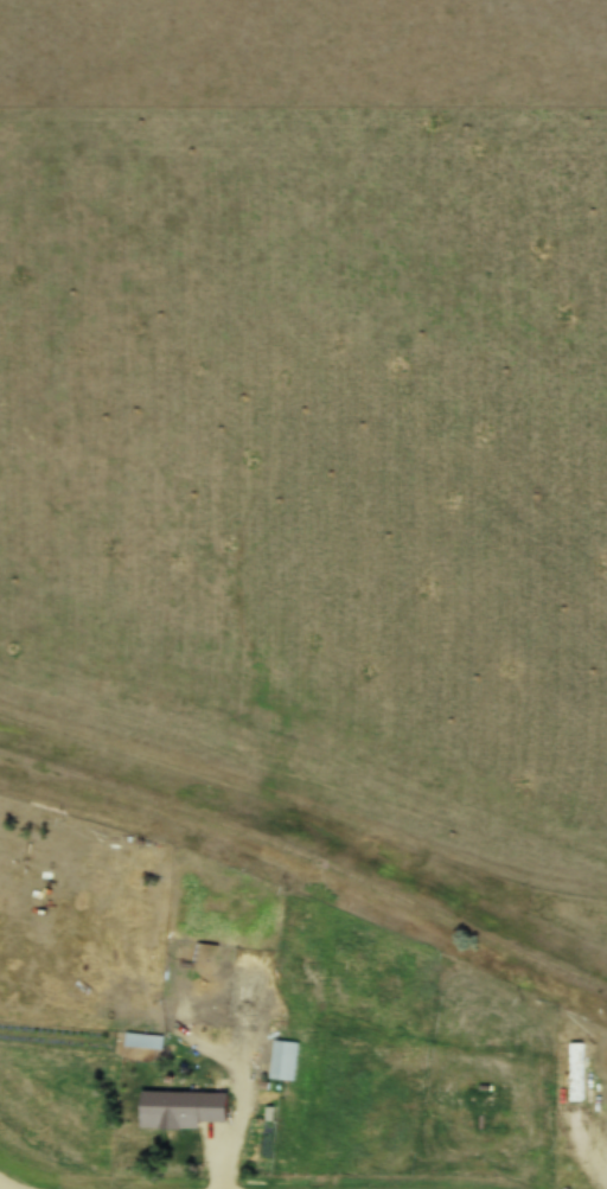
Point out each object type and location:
railway: (313, 833)
building: (96, 985)
building: (242, 1001)
building: (194, 1011)
building: (281, 1060)
building: (575, 1072)
building: (190, 1105)

